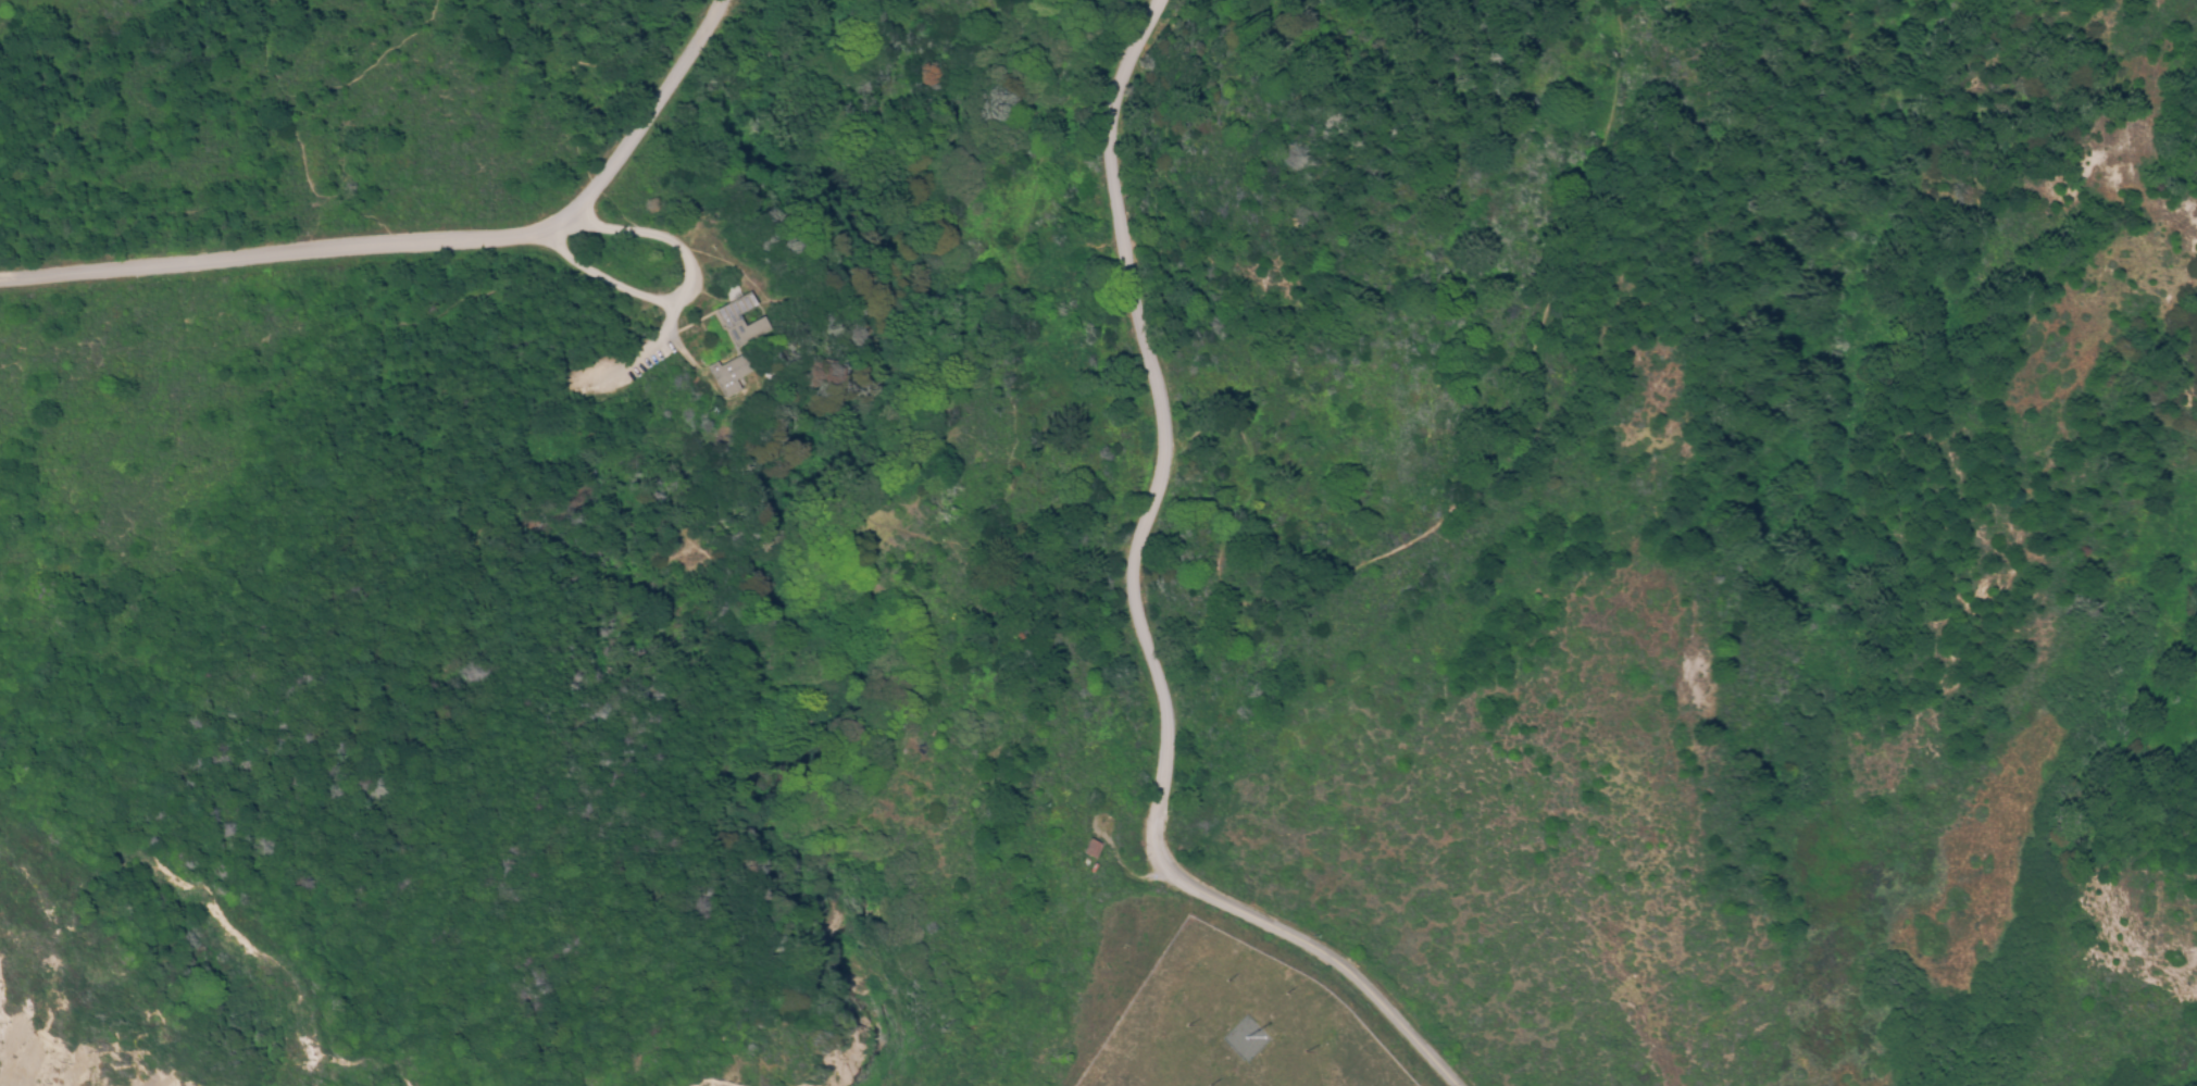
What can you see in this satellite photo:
road: (421, 245)
road: (1028, 284)
road: (686, 298)
road: (706, 316)
building: (739, 325)
road: (640, 357)
parking lot: (617, 365)
building: (727, 376)
road: (1165, 436)
road: (1468, 500)
road: (1078, 632)
road: (810, 687)
building: (1091, 849)
road: (1328, 960)

